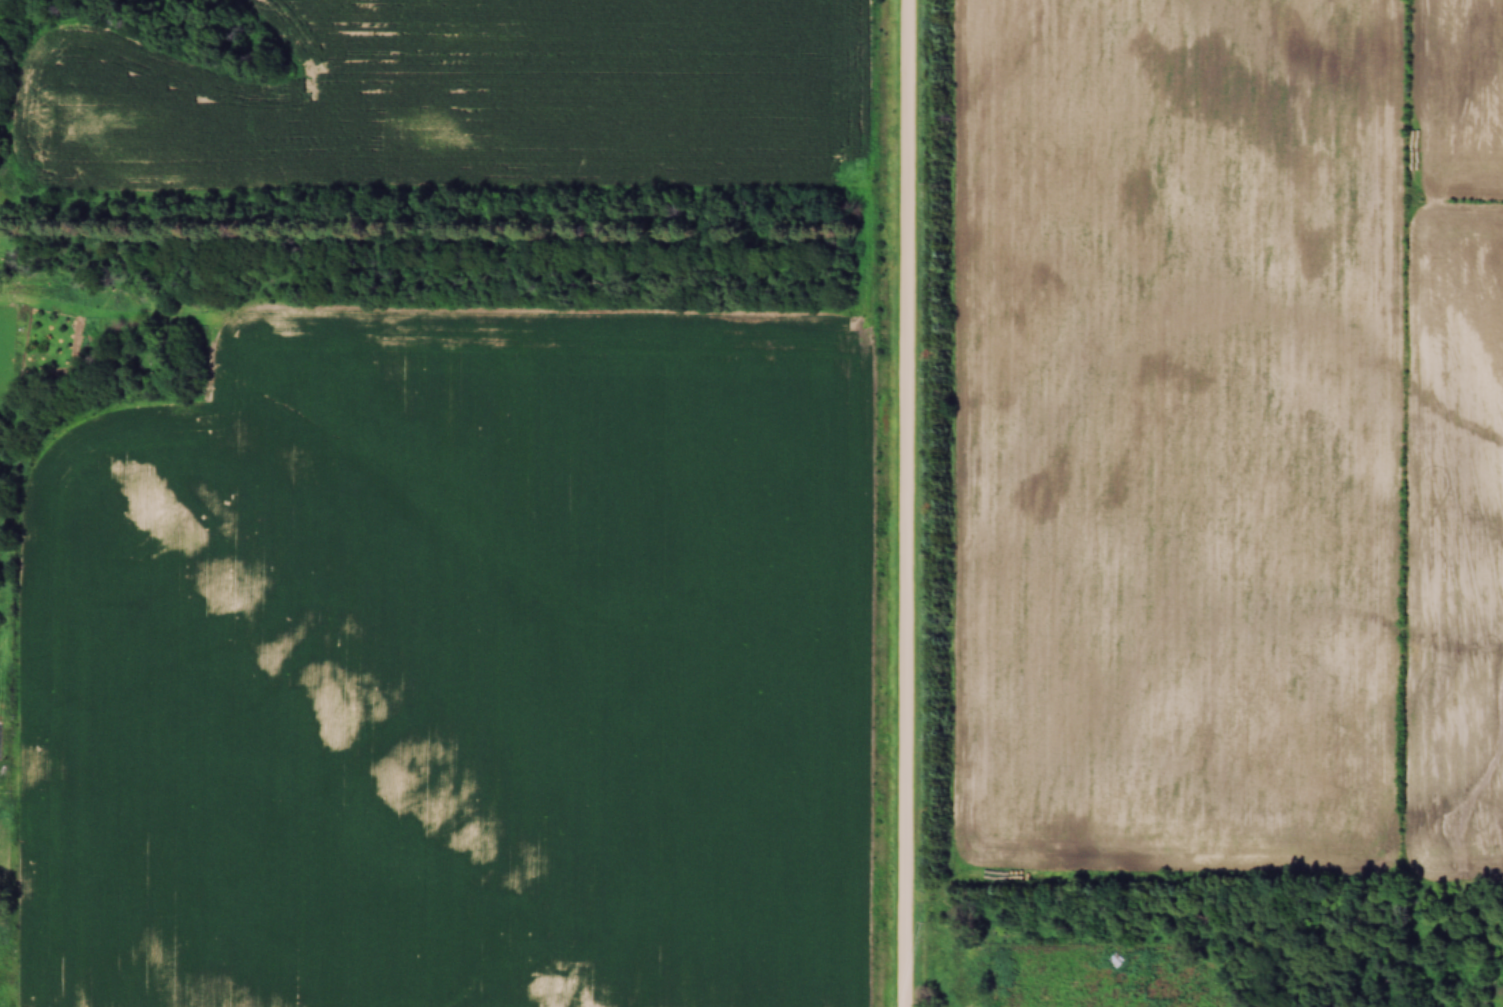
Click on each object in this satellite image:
road: (908, 503)
building: (1117, 960)

